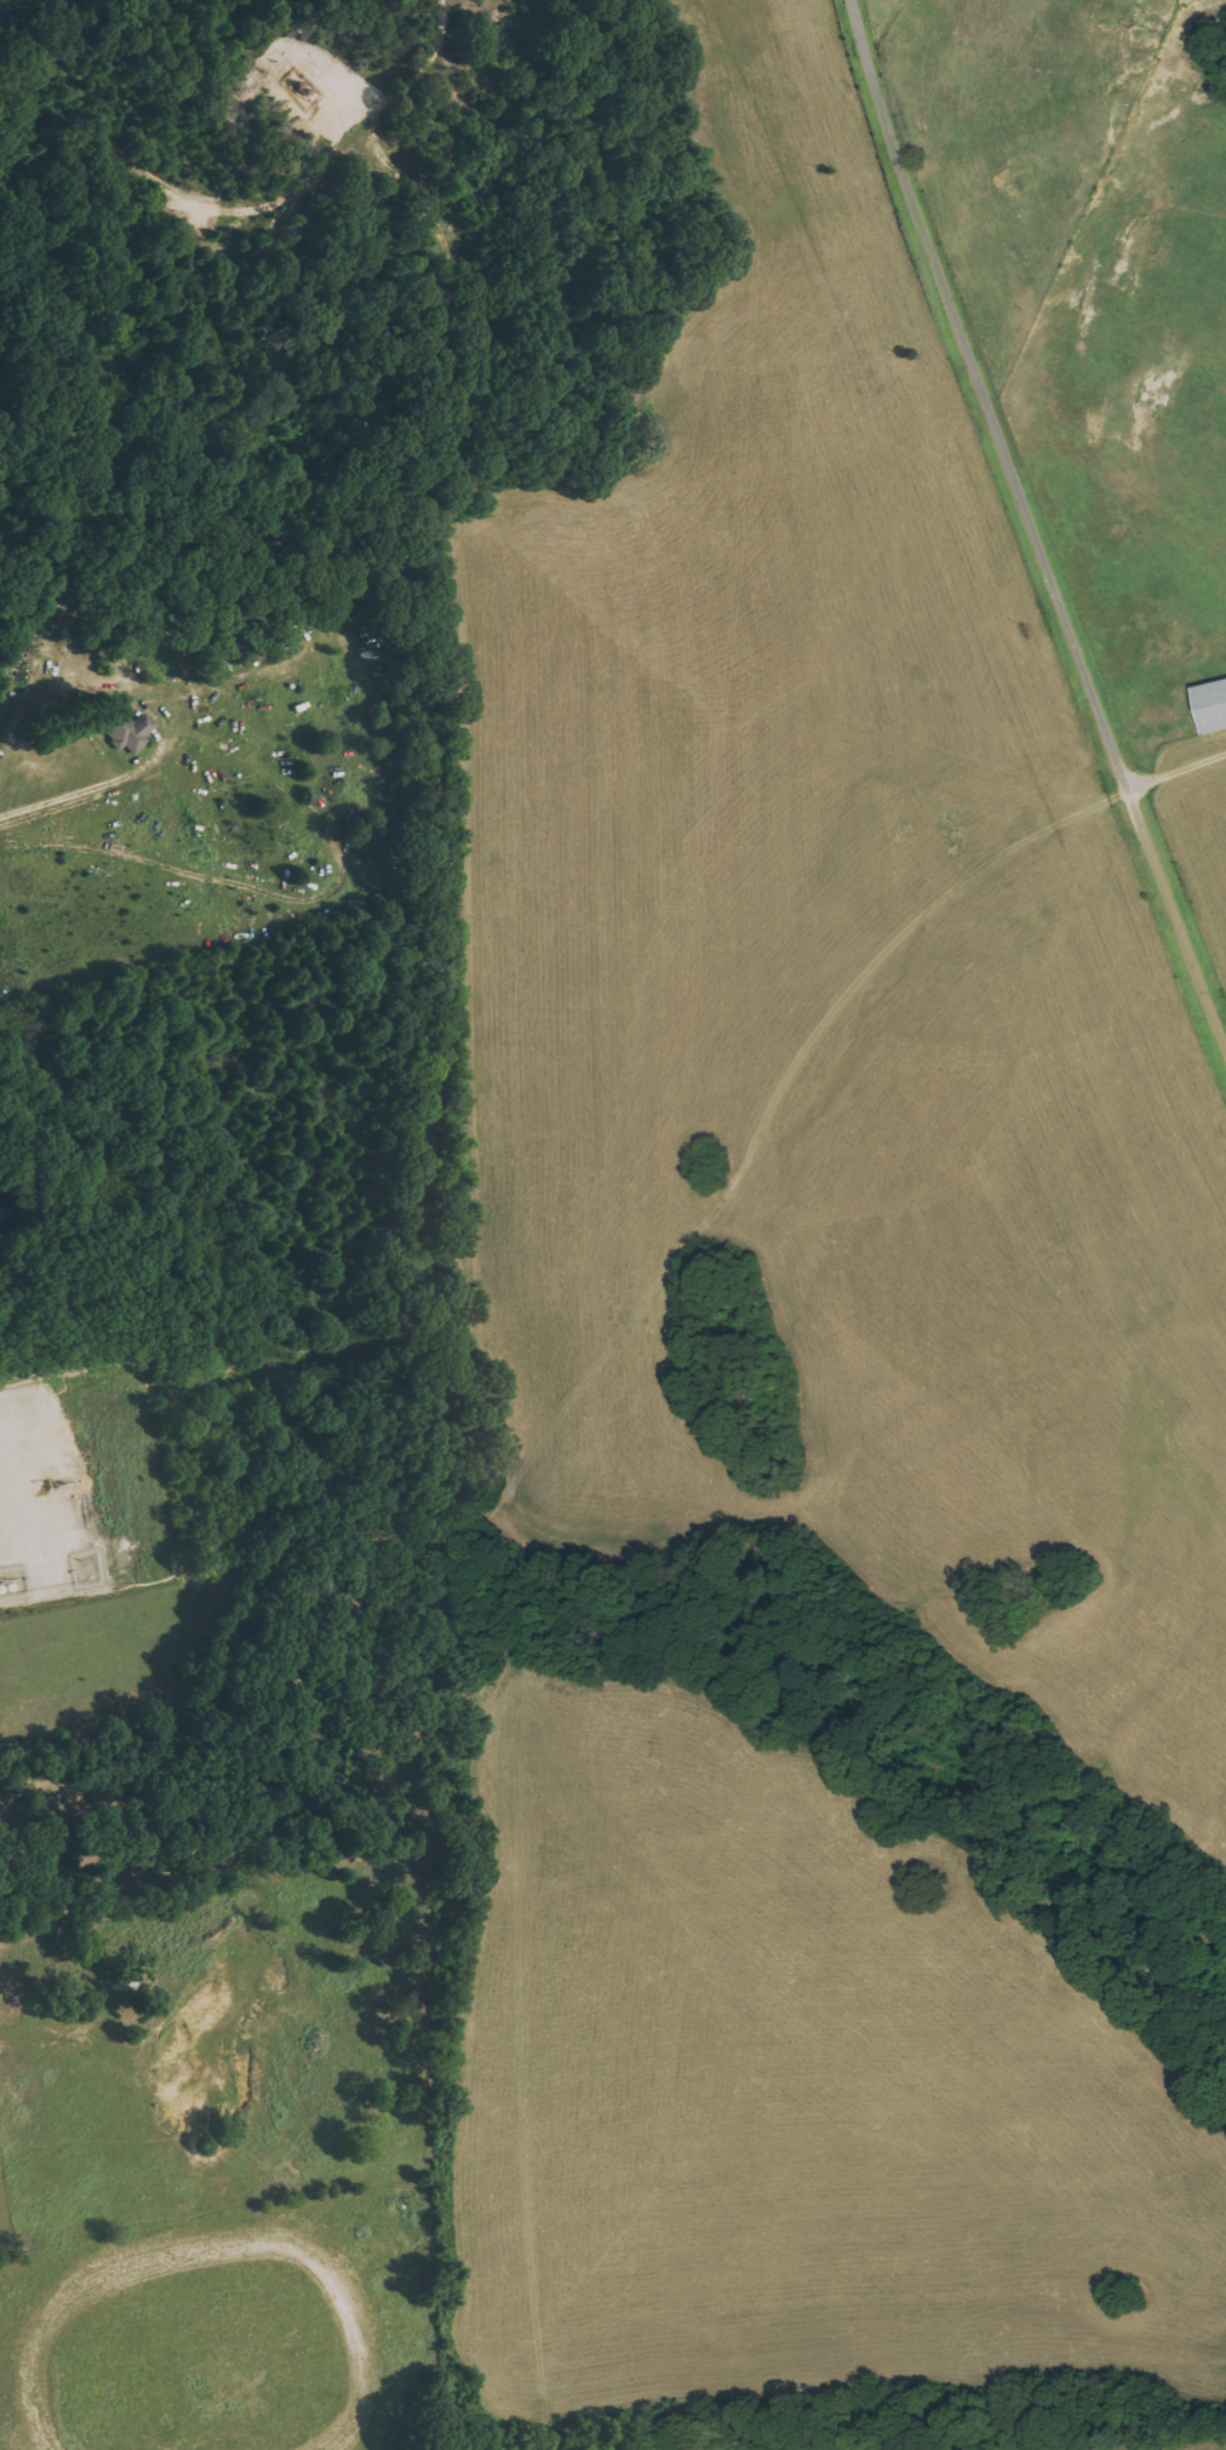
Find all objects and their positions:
road: (1031, 530)
building: (1213, 705)
building: (126, 728)

